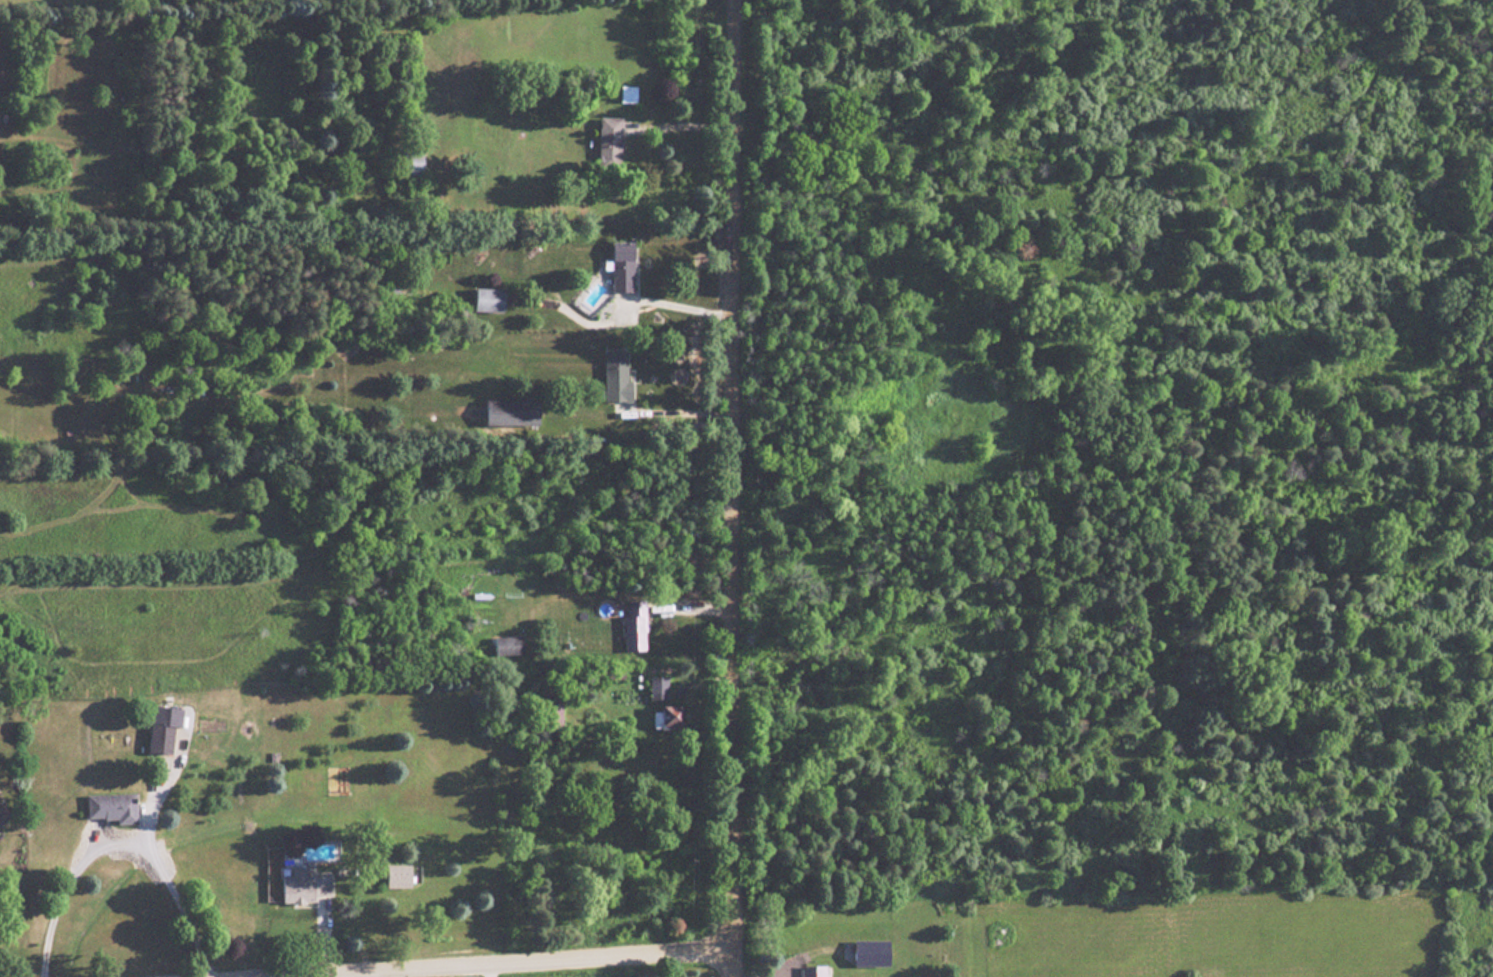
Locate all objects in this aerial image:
building: (629, 94)
building: (610, 141)
building: (411, 163)
building: (624, 268)
building: (491, 301)
road: (679, 306)
building: (617, 378)
building: (512, 413)
road: (678, 413)
park: (1127, 477)
road: (732, 488)
building: (635, 627)
building: (510, 646)
building: (655, 688)
building: (664, 717)
building: (162, 739)
building: (0, 793)
building: (115, 807)
building: (4, 814)
road: (119, 843)
building: (395, 876)
building: (305, 886)
building: (875, 954)
road: (479, 960)
road: (669, 962)
road: (486, 968)
road: (394, 971)
building: (815, 971)
road: (313, 974)

